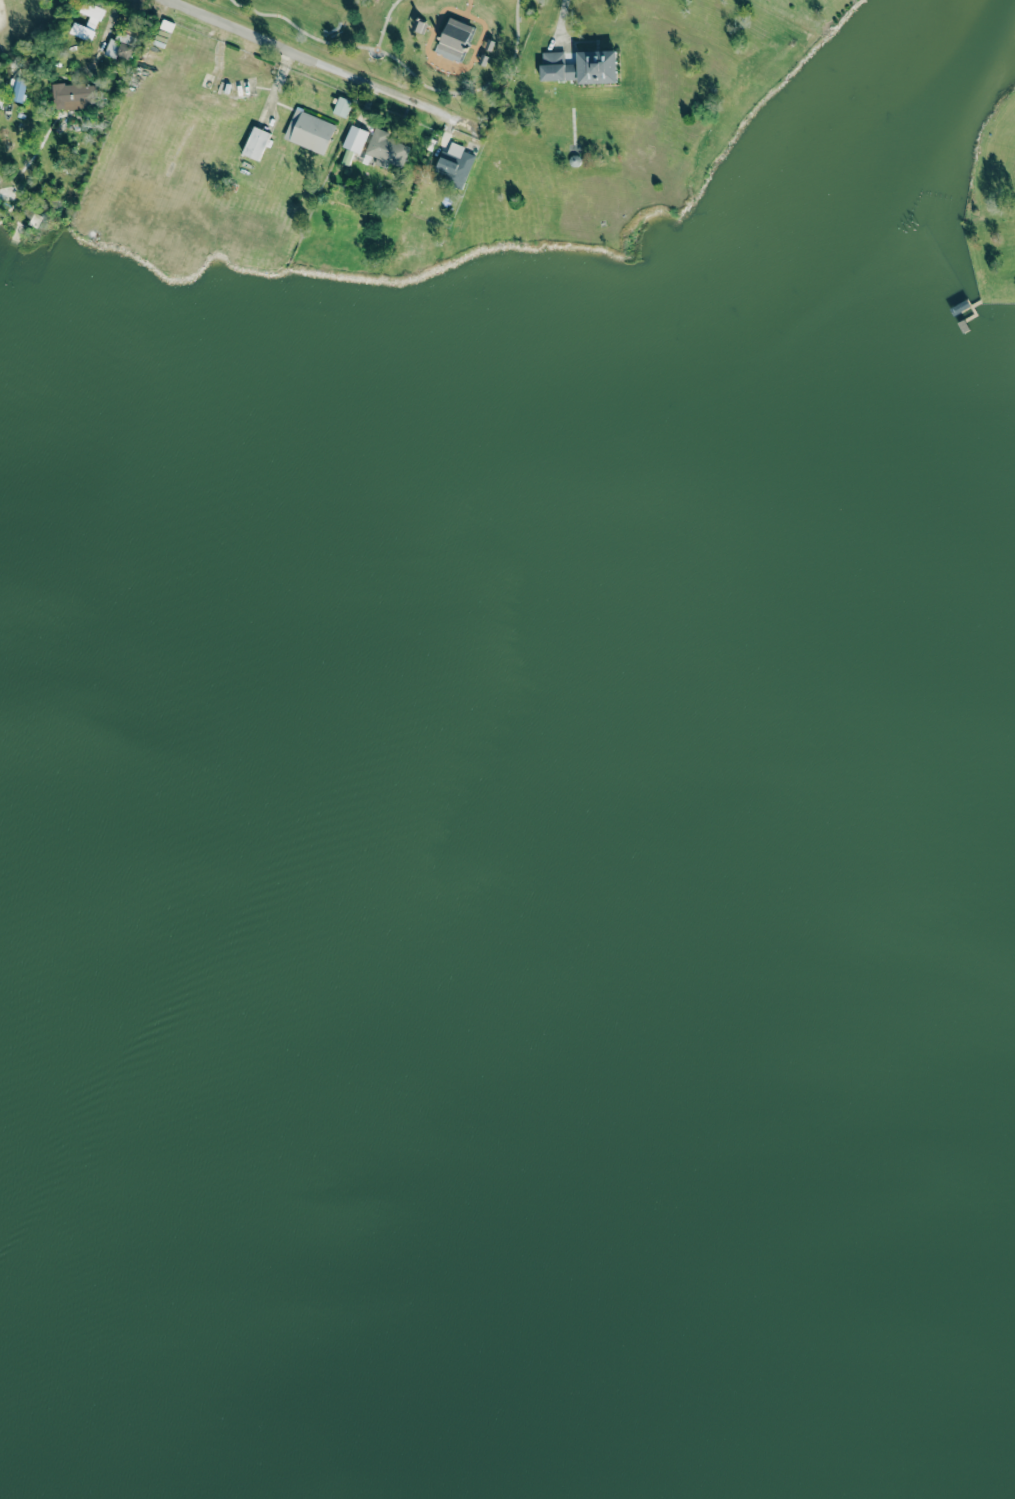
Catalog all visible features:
road: (563, 11)
road: (384, 22)
building: (82, 31)
road: (101, 37)
park: (412, 39)
building: (454, 39)
building: (119, 49)
building: (581, 65)
road: (404, 66)
road: (326, 67)
building: (19, 89)
building: (73, 95)
building: (342, 107)
building: (310, 131)
building: (354, 138)
building: (255, 143)
building: (387, 150)
building: (455, 164)

